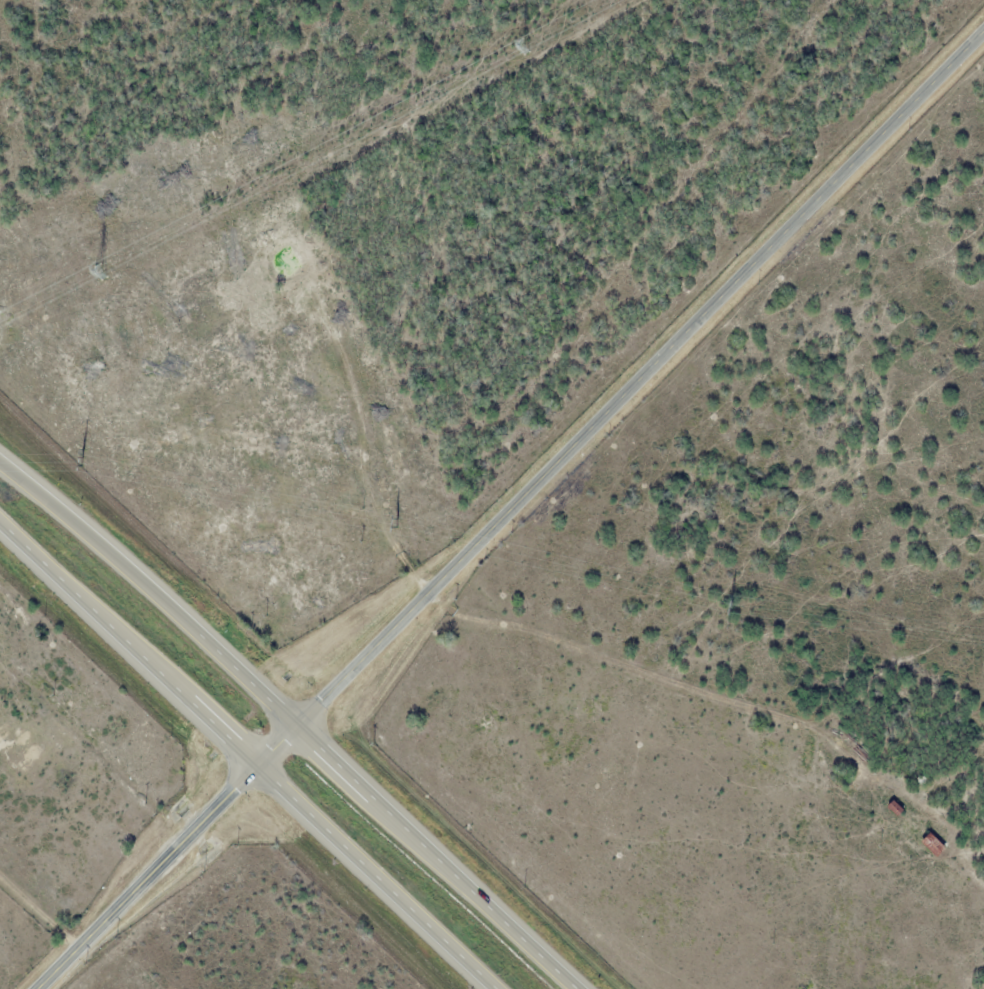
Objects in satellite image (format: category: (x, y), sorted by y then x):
power tower: (519, 45)
power tower: (98, 271)
power tower: (80, 456)
road: (511, 513)
power tower: (396, 520)
road: (27, 548)
road: (113, 556)
power tower: (730, 604)
road: (276, 782)
road: (401, 822)
building: (932, 844)

